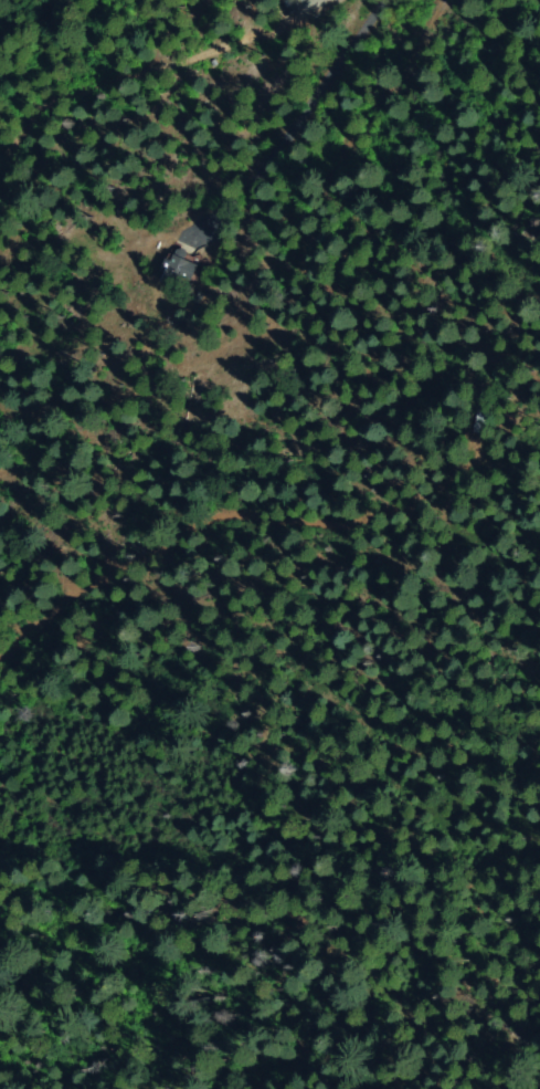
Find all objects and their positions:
building: (178, 270)
building: (483, 411)

